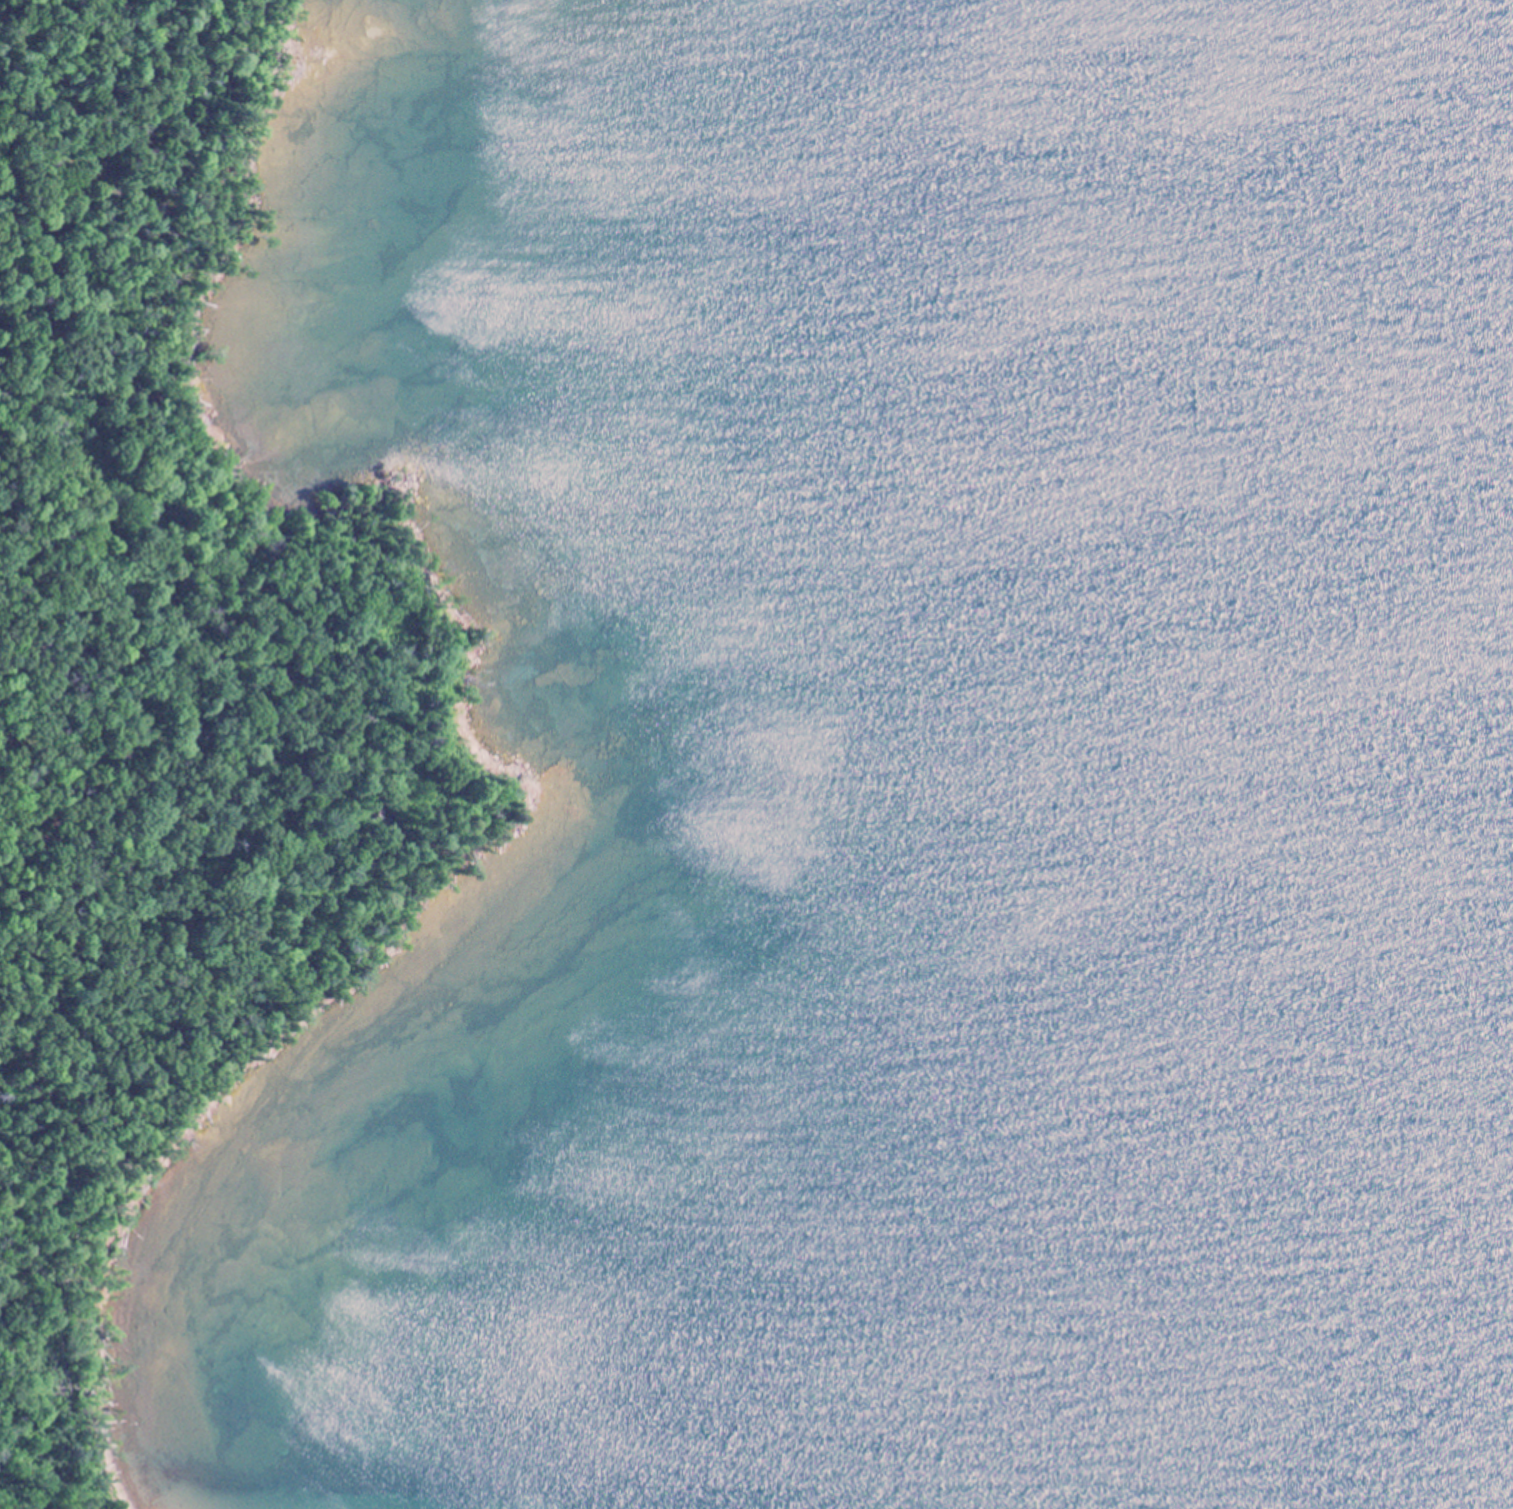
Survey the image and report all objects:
road: (50, 1098)

